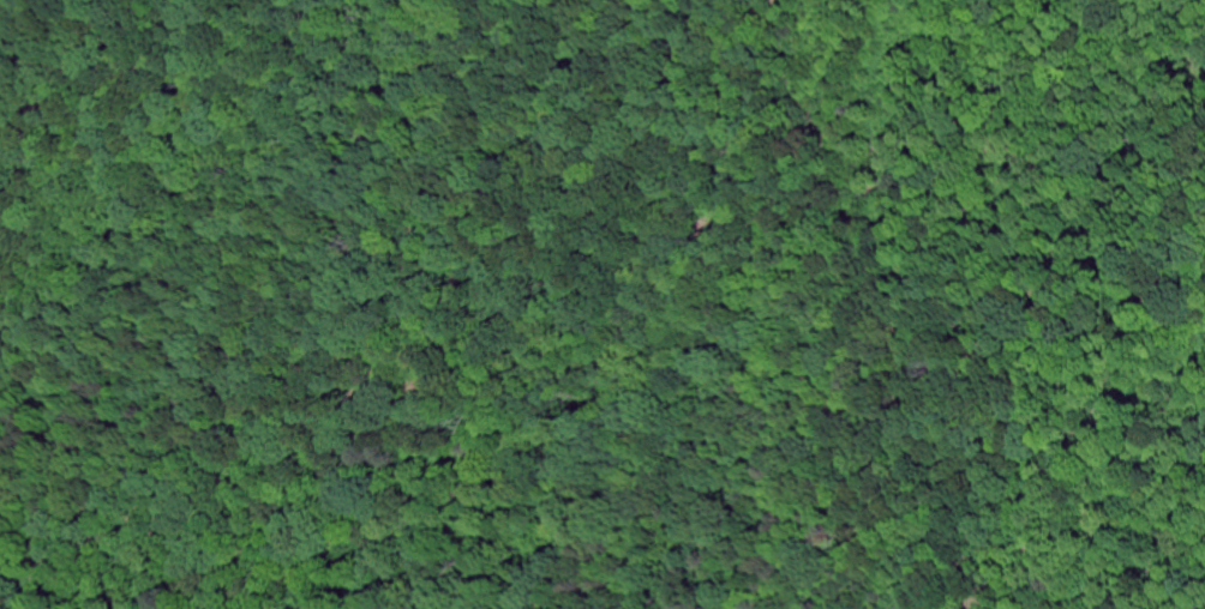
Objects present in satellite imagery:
road: (1129, 472)

